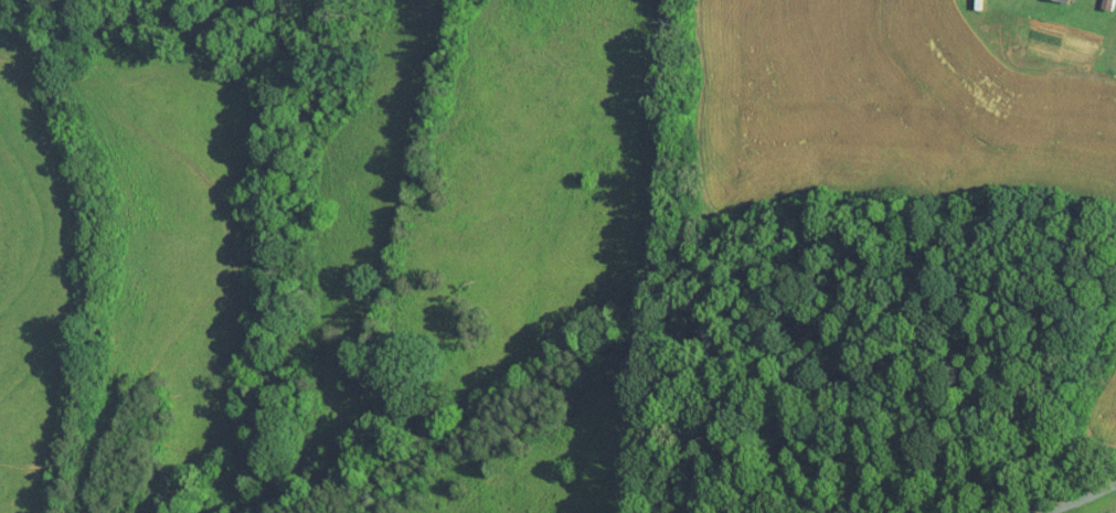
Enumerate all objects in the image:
building: (1065, 0)
building: (1106, 3)

